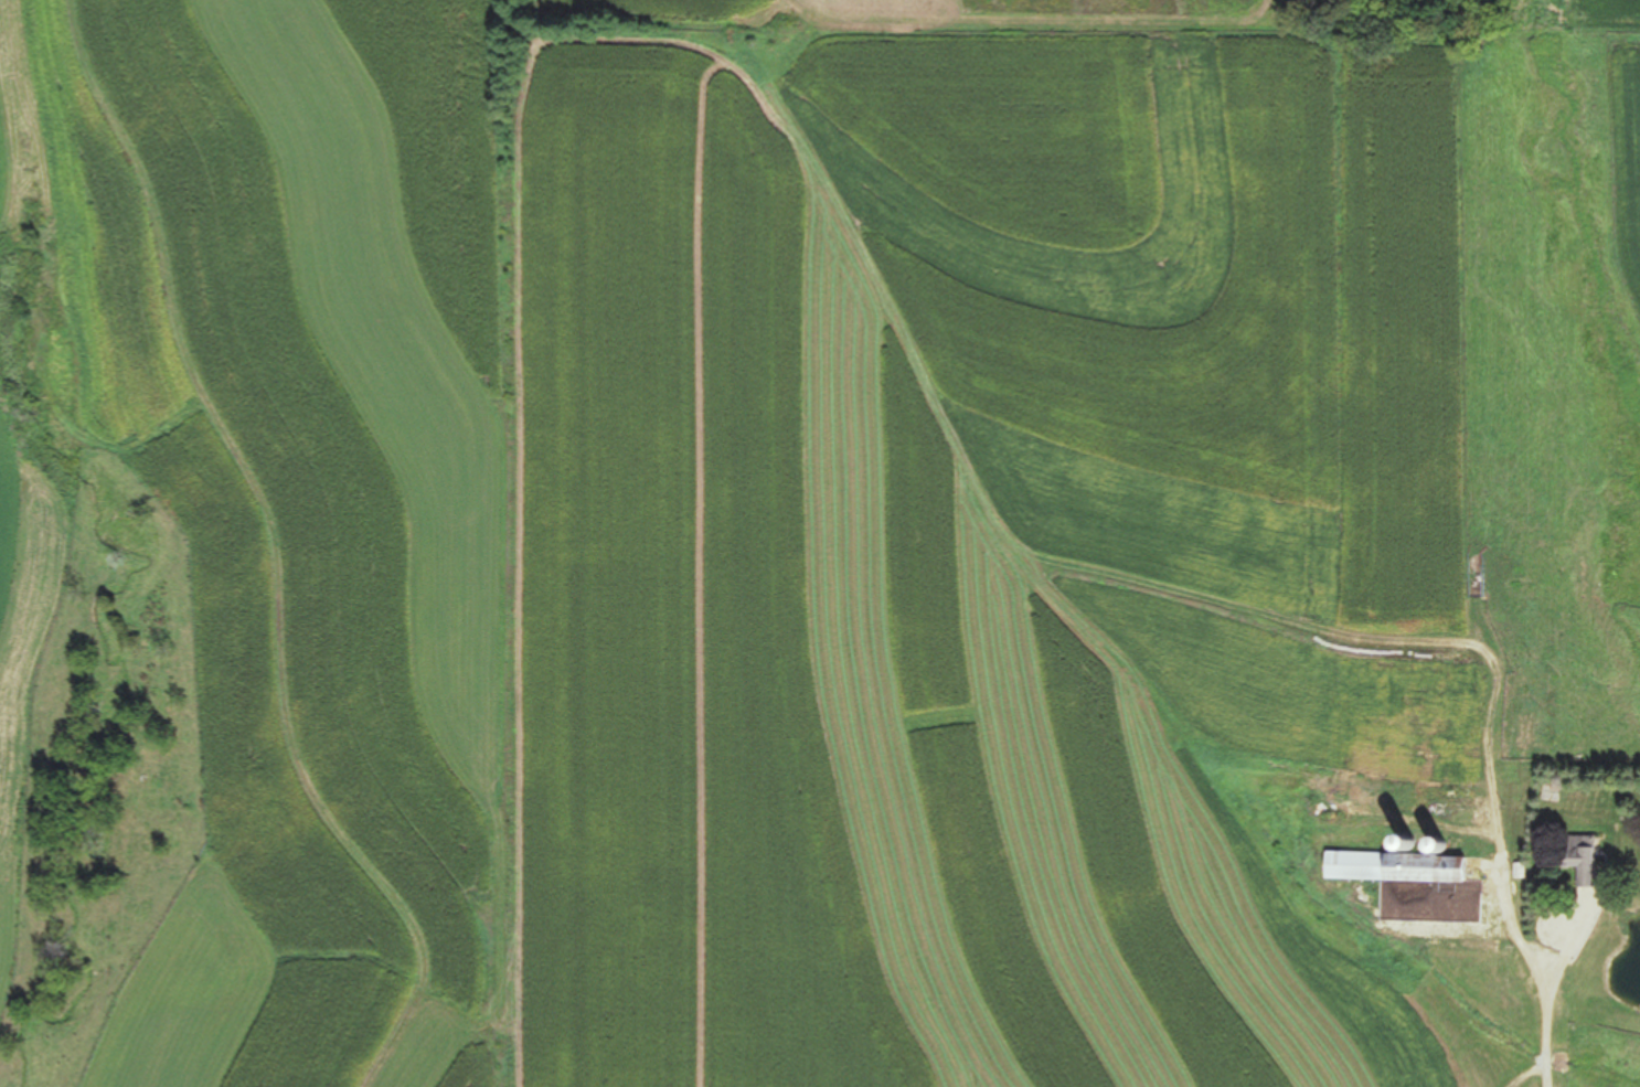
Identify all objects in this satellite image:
building: (1376, 695)
building: (1446, 793)
building: (1375, 796)
building: (1576, 856)
building: (1405, 867)
road: (1520, 990)

